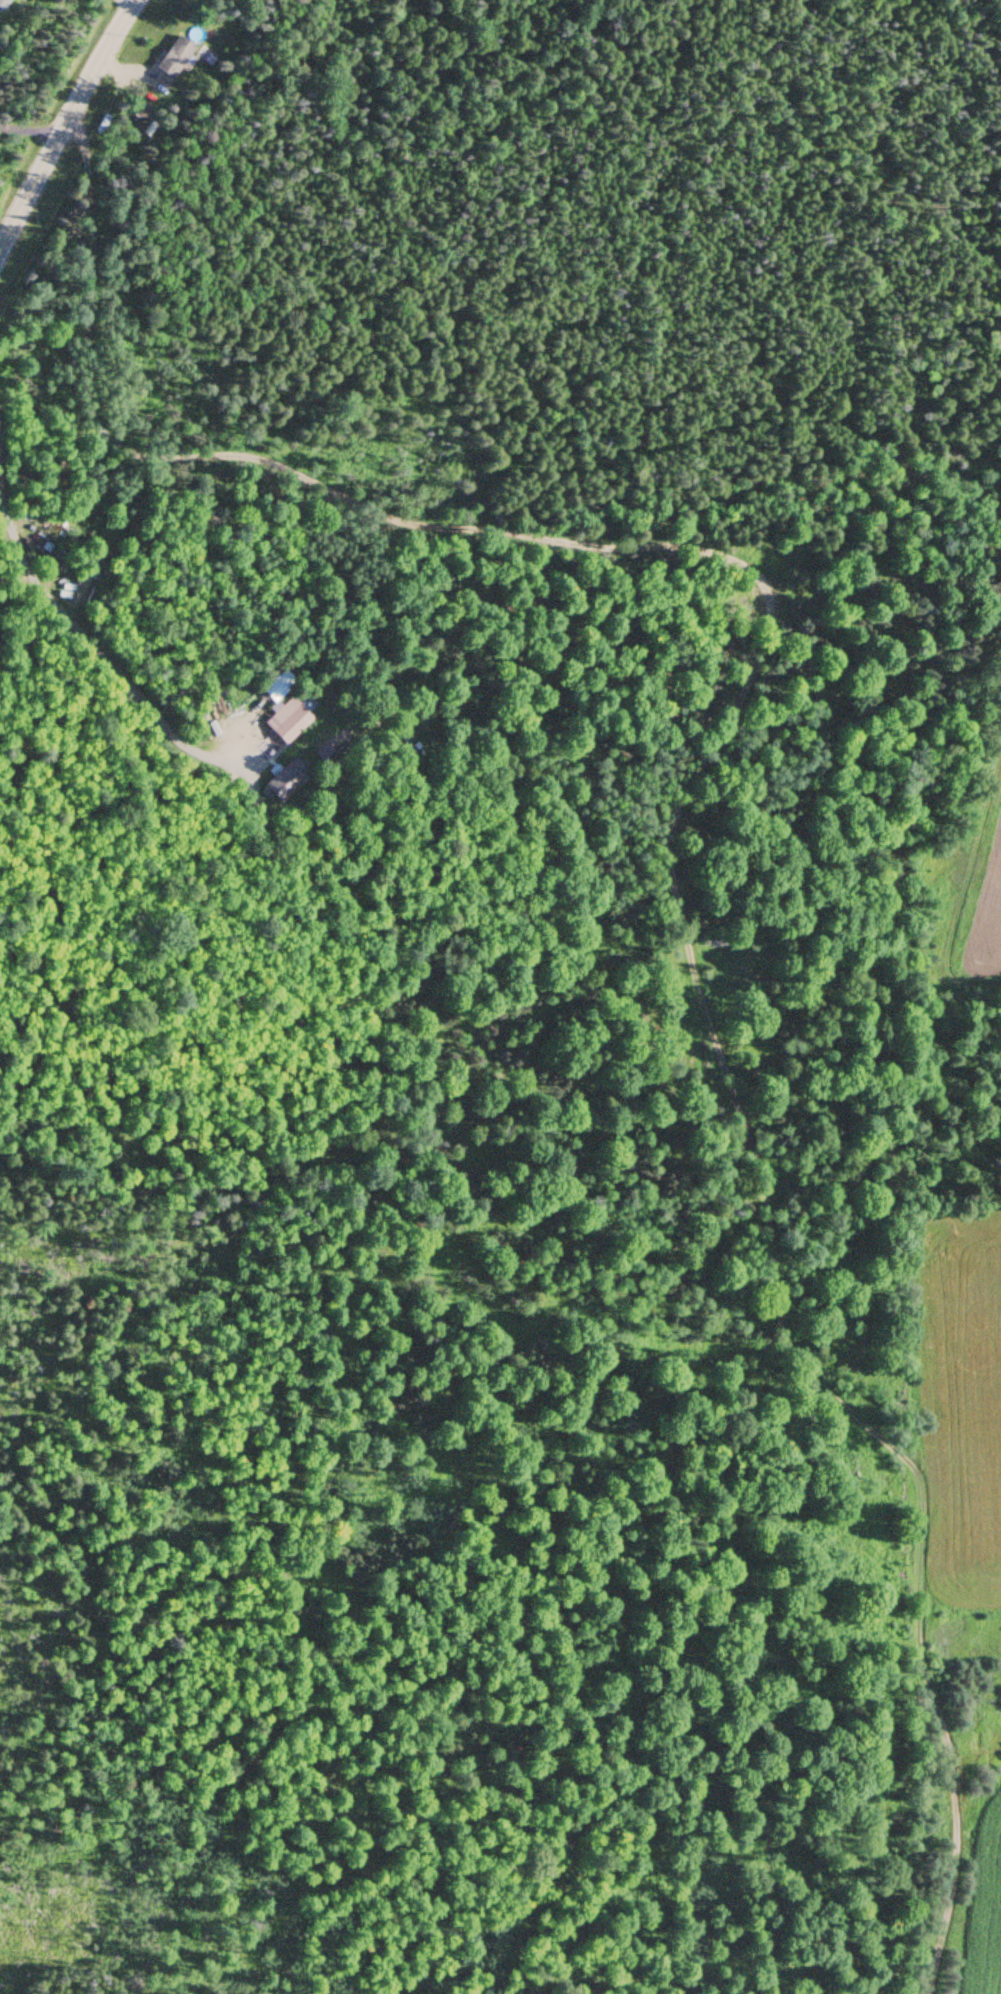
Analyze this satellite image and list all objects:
building: (3, 4)
building: (172, 60)
road: (66, 124)
road: (31, 128)
building: (23, 476)
road: (98, 650)
building: (282, 710)

